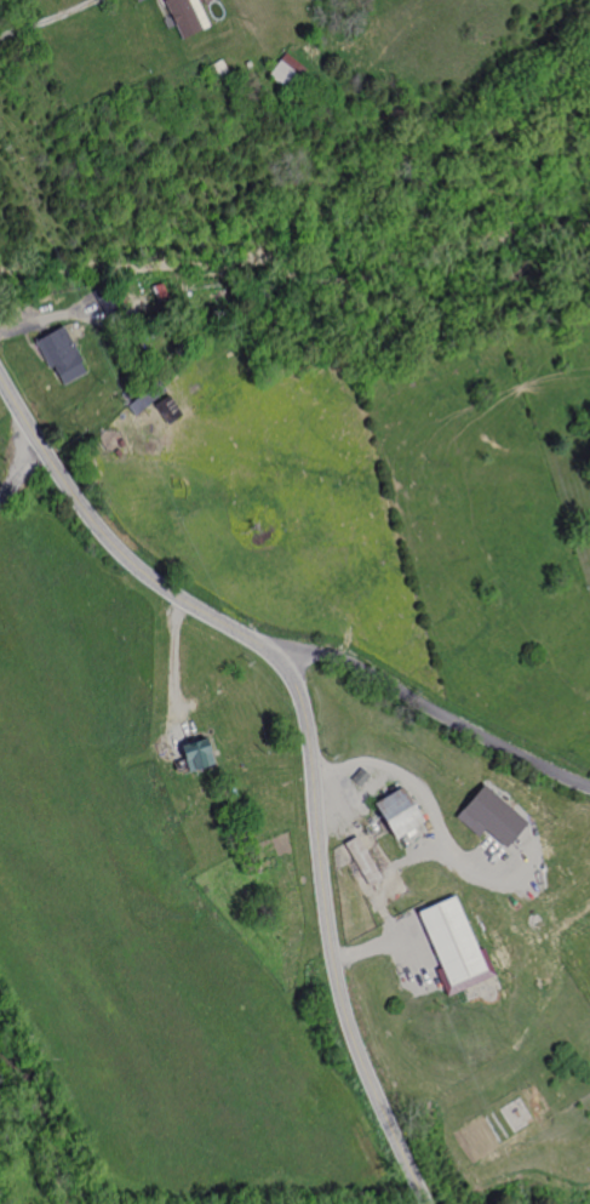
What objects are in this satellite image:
building: (138, 0)
building: (188, 16)
road: (48, 19)
building: (250, 64)
building: (220, 68)
building: (287, 72)
building: (160, 292)
building: (108, 302)
road: (47, 315)
road: (111, 324)
building: (62, 355)
building: (148, 398)
building: (168, 409)
building: (121, 443)
building: (119, 452)
road: (22, 475)
road: (340, 621)
road: (173, 673)
road: (433, 708)
road: (309, 735)
building: (199, 754)
building: (401, 810)
building: (494, 816)
road: (435, 846)
building: (365, 860)
road: (492, 871)
road: (525, 930)
building: (459, 947)

